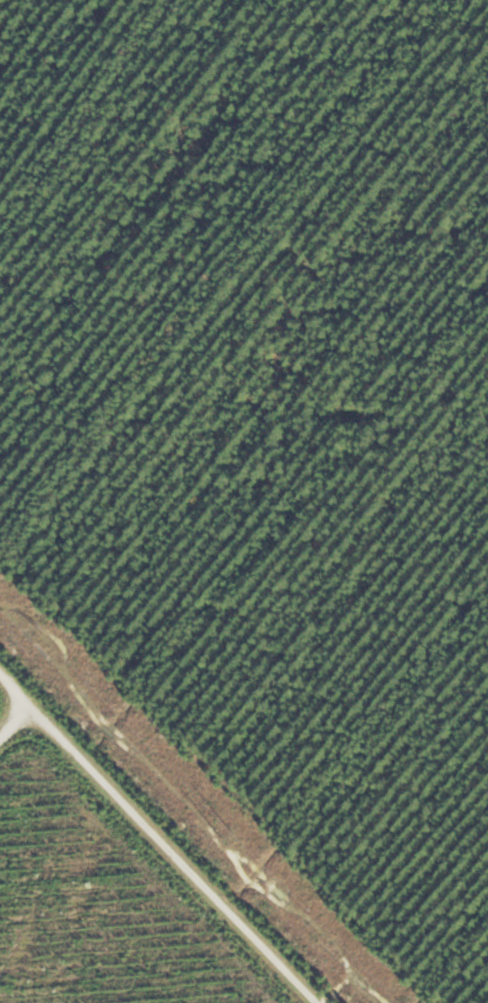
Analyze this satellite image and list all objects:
road: (171, 826)
power tower: (228, 834)

